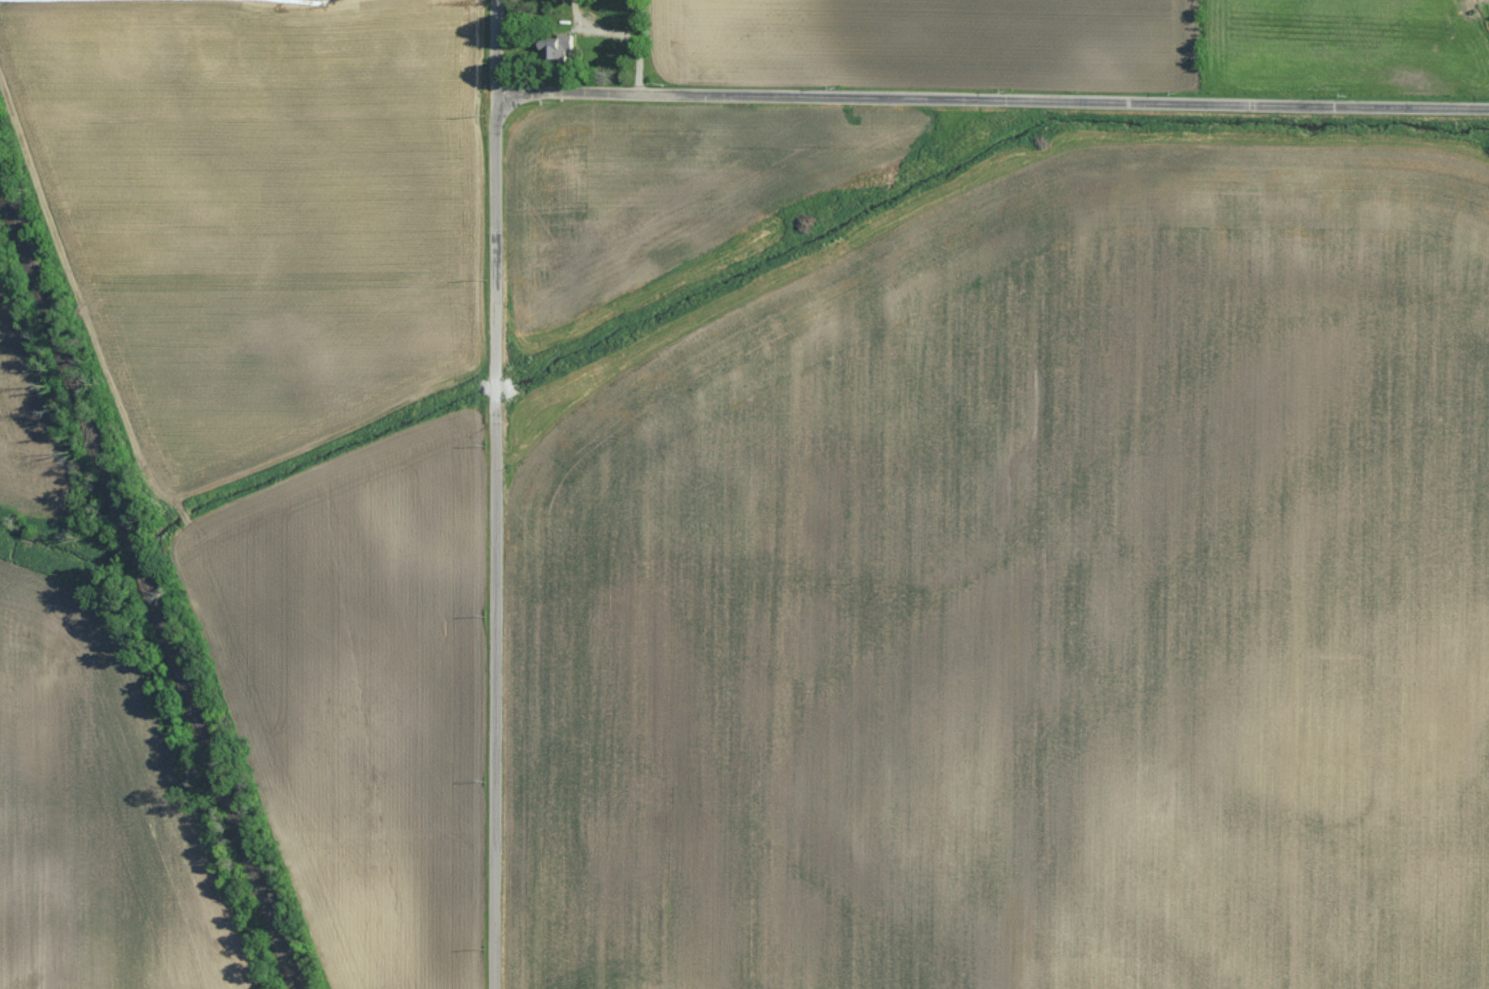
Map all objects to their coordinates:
building: (560, 47)
road: (991, 100)
road: (494, 494)
railway: (152, 565)

